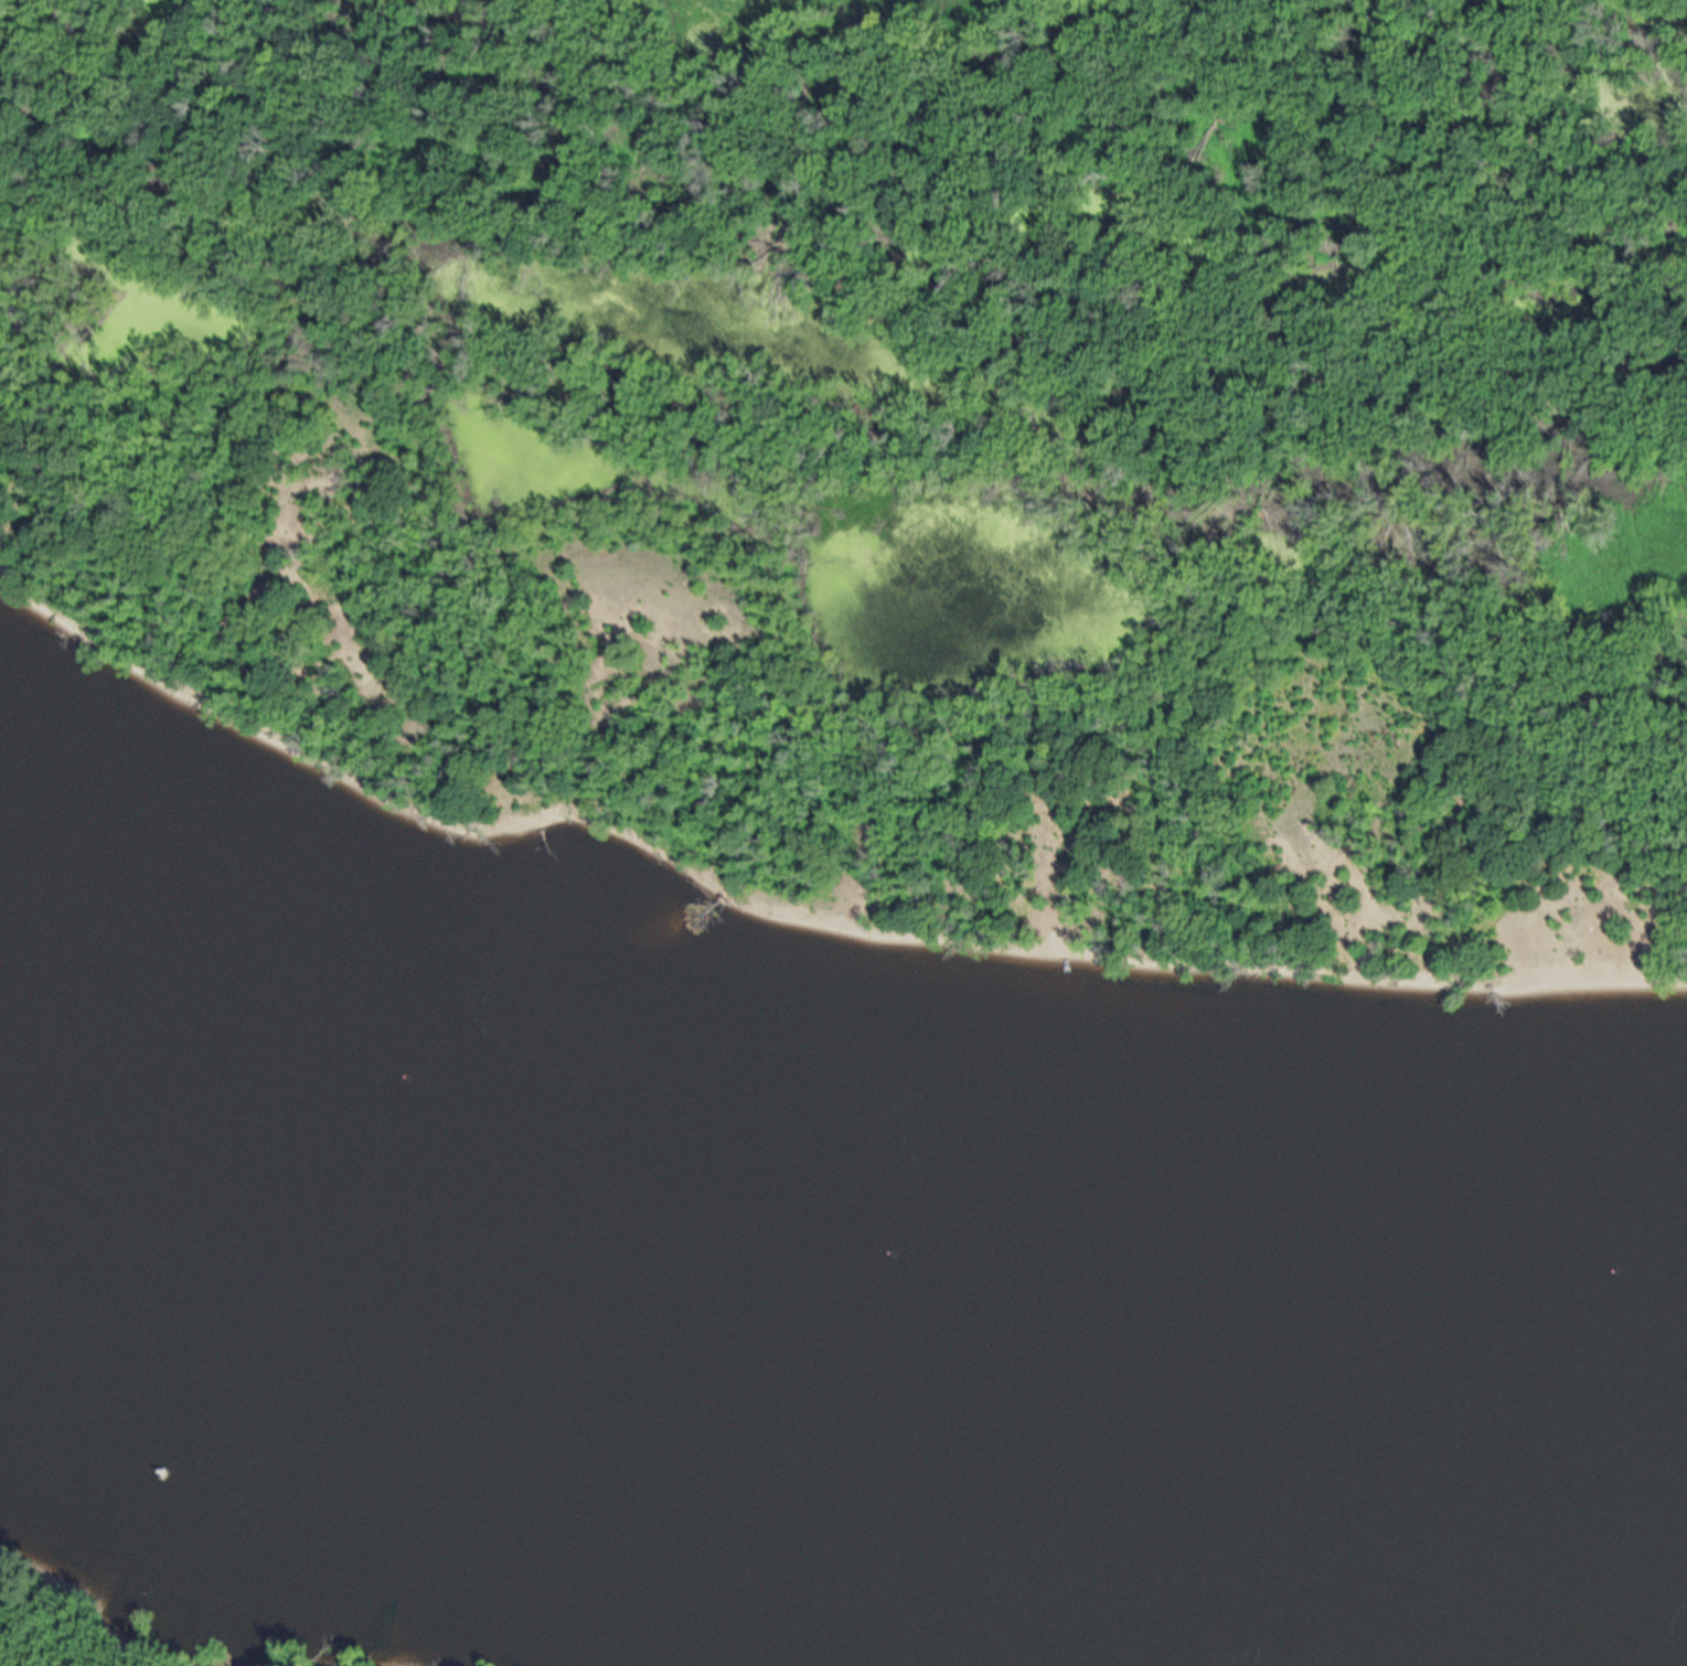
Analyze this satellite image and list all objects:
river: (829, 1502)

